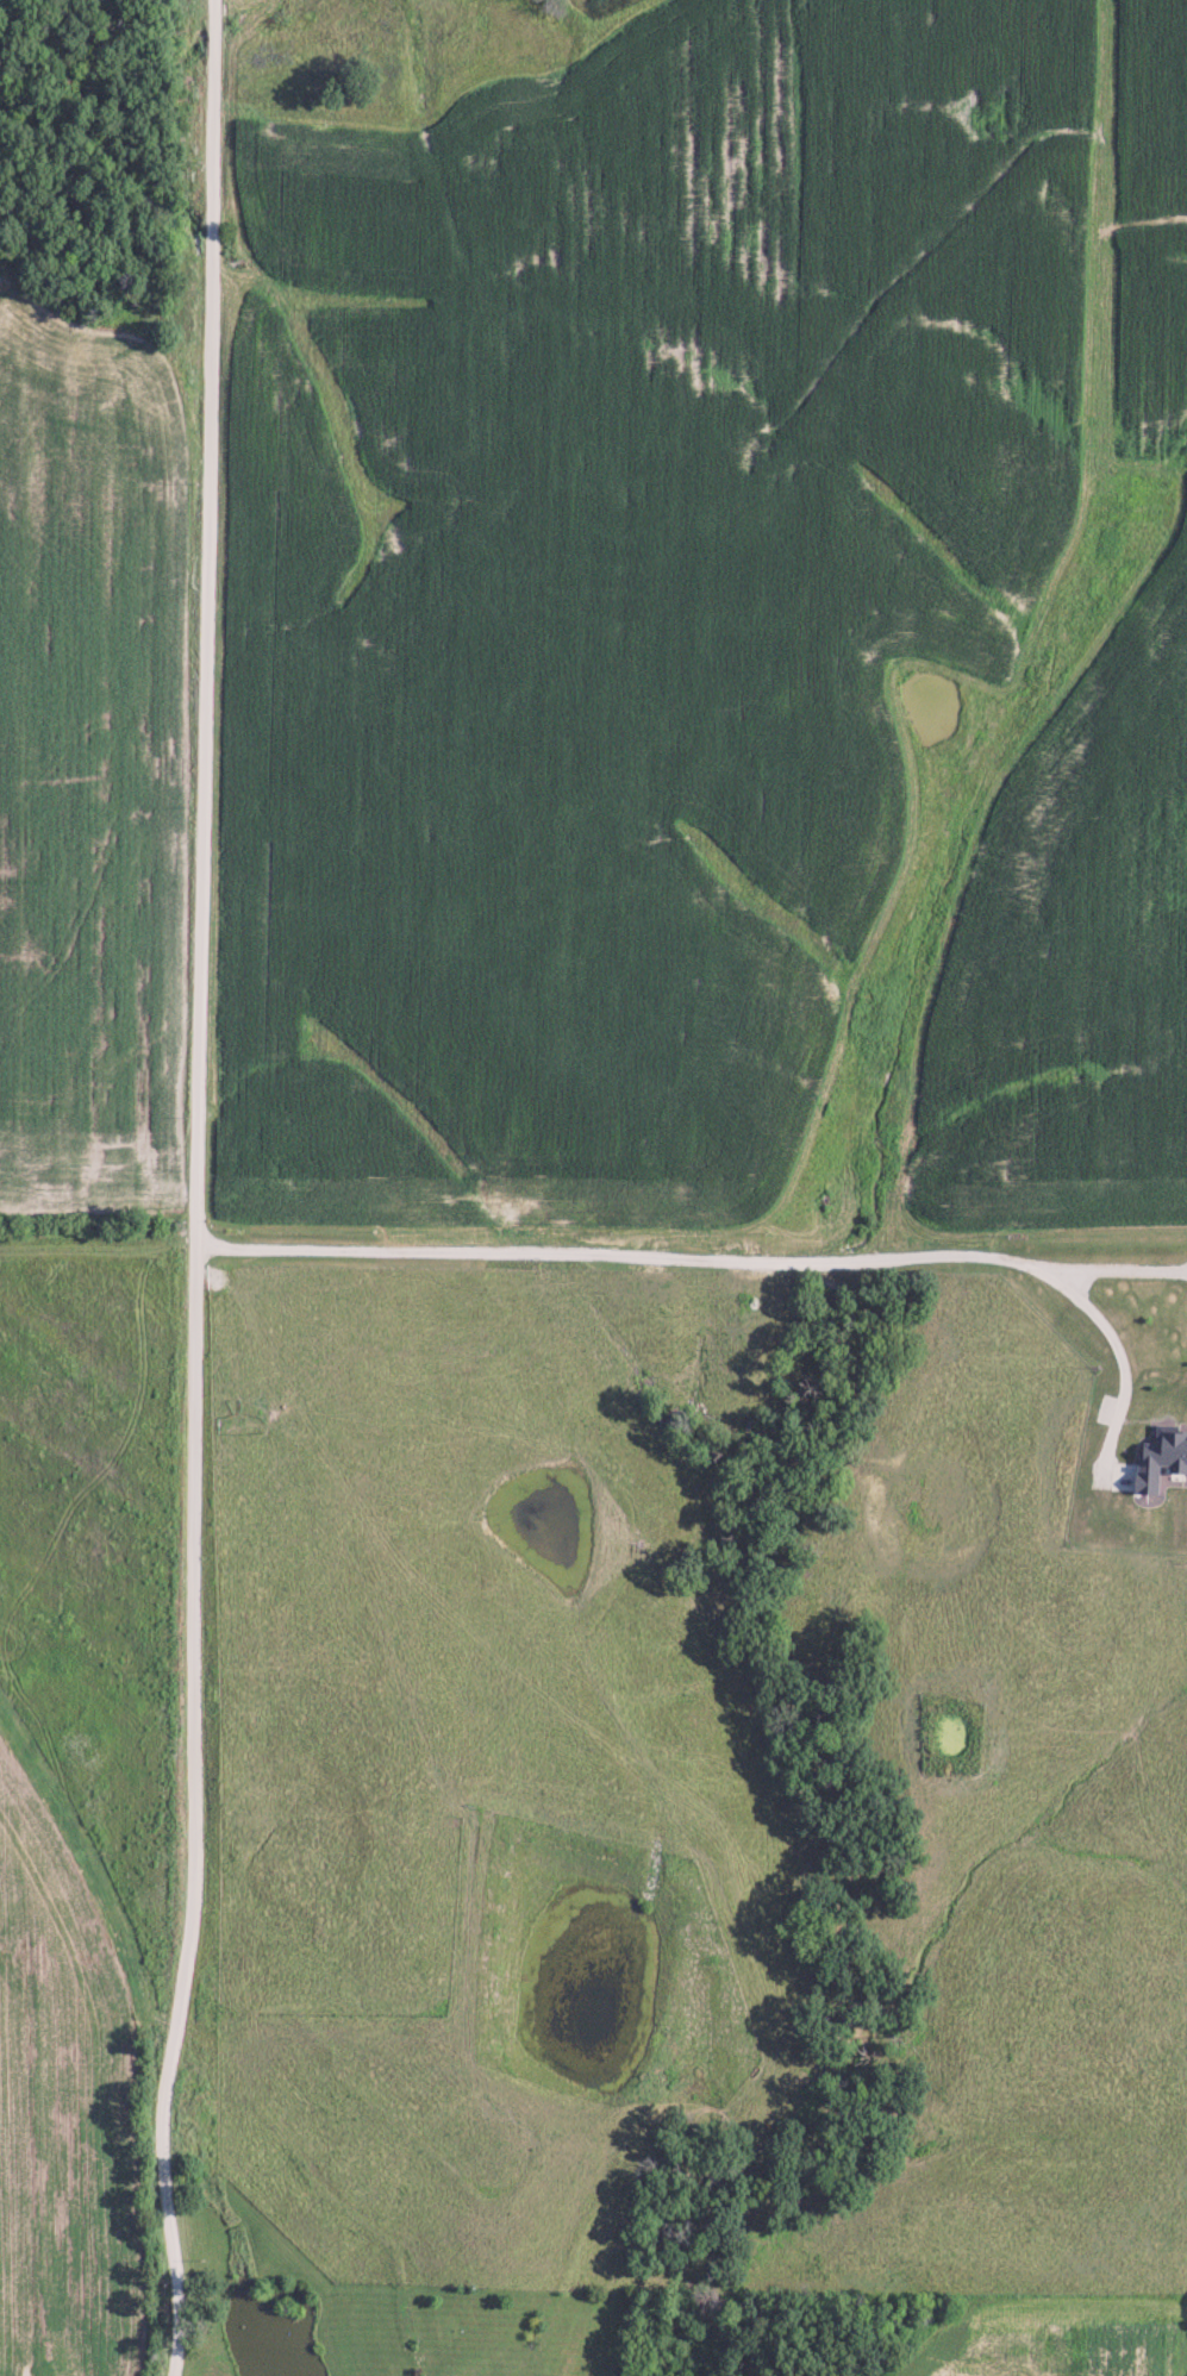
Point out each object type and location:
road: (198, 1189)
road: (745, 1259)
road: (1125, 1269)
building: (1163, 1458)

